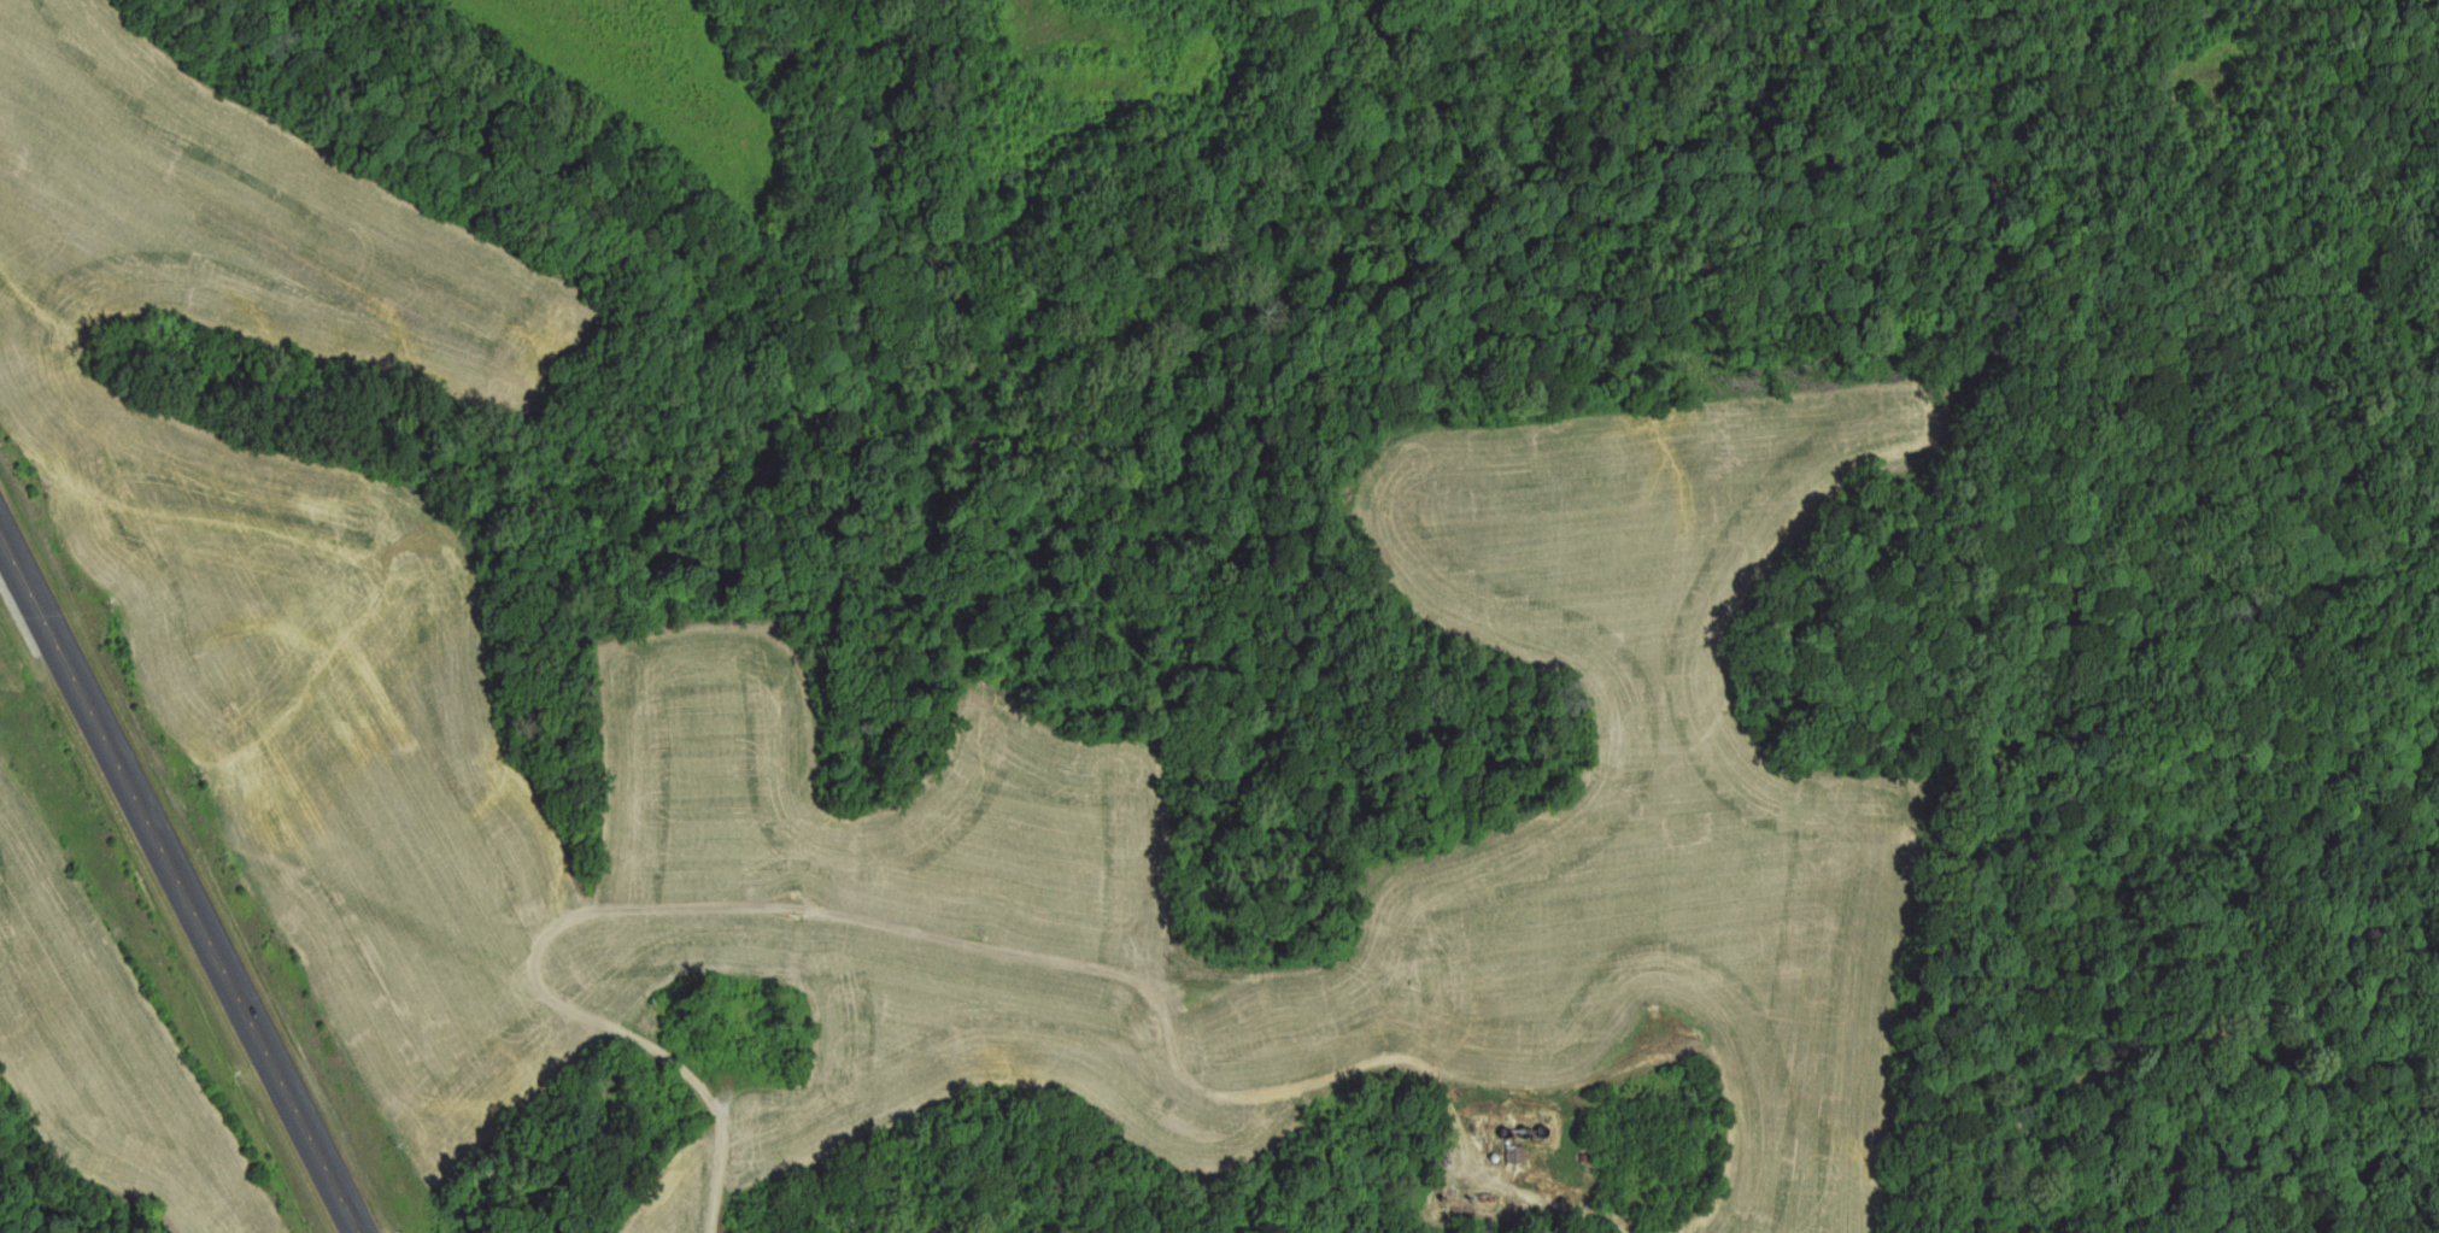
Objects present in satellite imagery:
road: (2128, 247)
road: (182, 880)
road: (890, 923)
building: (669, 1009)

